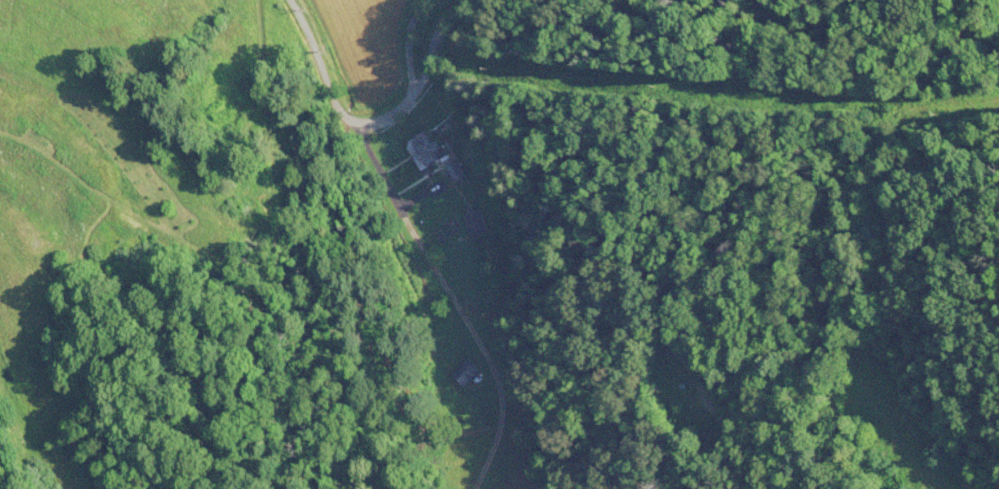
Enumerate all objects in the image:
road: (426, 58)
road: (314, 65)
building: (425, 152)
building: (456, 173)
building: (474, 225)
road: (447, 296)
building: (465, 373)

